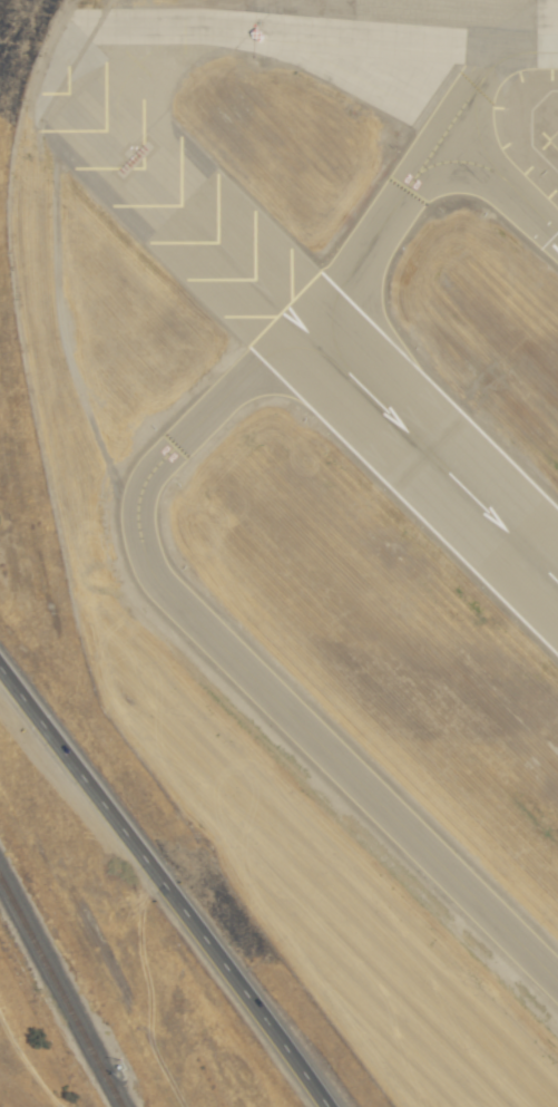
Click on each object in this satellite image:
airport taxiway: (491, 67)
airport taxiway: (503, 179)
airport runway: (182, 208)
airport taxiway: (378, 229)
airport runway: (430, 457)
airport: (320, 480)
airport taxiway: (239, 669)
road: (165, 887)
railway: (60, 992)

